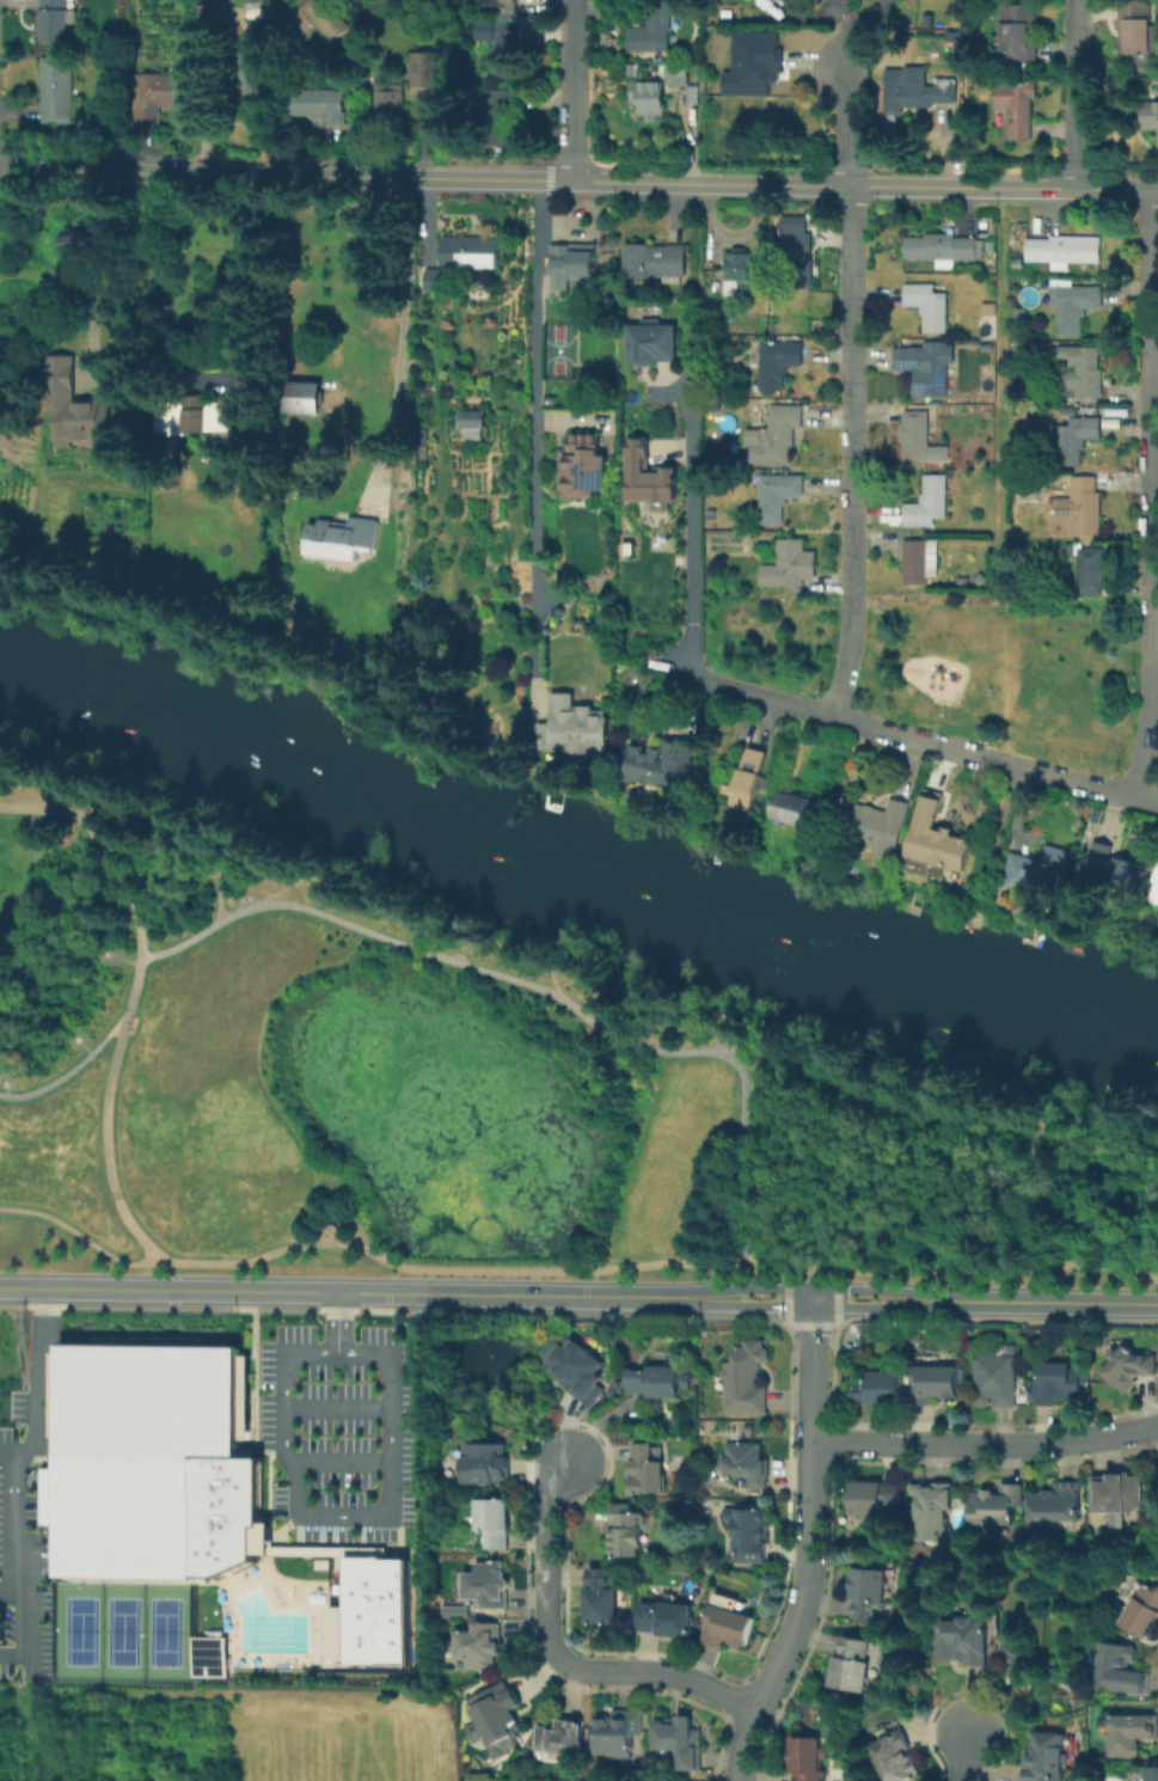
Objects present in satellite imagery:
building: (755, 1)
building: (503, 2)
building: (259, 5)
building: (56, 22)
building: (327, 22)
building: (1135, 29)
building: (652, 30)
building: (1019, 32)
building: (503, 44)
building: (756, 68)
building: (424, 71)
building: (257, 74)
building: (56, 90)
road: (574, 92)
road: (1077, 94)
building: (657, 96)
building: (929, 96)
building: (160, 97)
building: (320, 106)
building: (1017, 109)
building: (393, 112)
building: (498, 116)
building: (1152, 116)
road: (850, 127)
road: (578, 184)
building: (72, 243)
building: (799, 245)
building: (943, 251)
building: (1065, 253)
building: (473, 255)
building: (1019, 263)
building: (657, 264)
building: (577, 268)
road: (88, 274)
building: (740, 274)
building: (439, 283)
building: (1076, 307)
building: (930, 308)
building: (1019, 317)
road: (406, 335)
building: (655, 344)
building: (1021, 354)
building: (778, 366)
building: (931, 371)
building: (1083, 373)
building: (251, 382)
building: (307, 400)
building: (76, 409)
building: (192, 415)
building: (474, 421)
road: (535, 432)
building: (779, 437)
building: (917, 437)
building: (1079, 440)
road: (852, 454)
building: (584, 469)
building: (647, 477)
road: (1152, 495)
building: (779, 498)
building: (926, 507)
building: (1083, 508)
building: (345, 540)
building: (917, 565)
building: (789, 567)
building: (1091, 575)
park: (1010, 669)
road: (778, 702)
river: (174, 711)
building: (577, 732)
building: (666, 766)
building: (752, 781)
road: (65, 807)
building: (796, 812)
building: (876, 828)
building: (941, 841)
road: (993, 849)
road: (215, 853)
park: (992, 853)
road: (269, 863)
building: (1040, 869)
road: (231, 870)
building: (1115, 870)
road: (120, 876)
building: (1154, 892)
road: (219, 896)
river: (750, 906)
road: (419, 910)
road: (359, 926)
road: (462, 944)
road: (111, 948)
road: (125, 959)
road: (76, 1033)
road: (717, 1035)
road: (630, 1042)
road: (85, 1048)
road: (264, 1069)
road: (68, 1070)
road: (776, 1079)
road: (851, 1082)
road: (12, 1083)
road: (755, 1085)
park: (466, 1093)
road: (5, 1094)
road: (103, 1112)
road: (1080, 1121)
road: (1126, 1131)
road: (1011, 1139)
road: (736, 1150)
road: (631, 1158)
road: (777, 1163)
road: (748, 1174)
road: (998, 1187)
road: (1035, 1236)
road: (570, 1268)
road: (786, 1271)
road: (835, 1273)
road: (817, 1290)
road: (786, 1291)
road: (835, 1292)
road: (355, 1293)
road: (1041, 1302)
road: (816, 1308)
road: (337, 1322)
building: (576, 1371)
building: (1131, 1371)
building: (747, 1381)
building: (656, 1383)
building: (997, 1383)
building: (939, 1387)
building: (1059, 1387)
building: (880, 1391)
building: (54, 1395)
road: (337, 1407)
road: (391, 1420)
parking lot: (337, 1432)
road: (1154, 1440)
road: (985, 1446)
road: (11, 1452)
road: (342, 1462)
building: (152, 1463)
building: (486, 1464)
building: (748, 1464)
building: (647, 1471)
road: (11, 1482)
building: (1119, 1495)
building: (874, 1500)
building: (1058, 1505)
building: (995, 1507)
building: (932, 1512)
building: (495, 1524)
parking lot: (26, 1530)
building: (627, 1534)
building: (750, 1537)
road: (810, 1542)
building: (489, 1586)
road: (12, 1595)
building: (868, 1595)
building: (602, 1601)
park: (78, 1605)
building: (374, 1610)
building: (459, 1611)
building: (1144, 1614)
building: (667, 1621)
building: (728, 1624)
park: (80, 1630)
park: (122, 1630)
park: (163, 1630)
building: (966, 1644)
building: (480, 1648)
road: (14, 1654)
park: (65, 1654)
park: (88, 1655)
building: (207, 1655)
road: (560, 1658)
building: (854, 1666)
building: (1122, 1671)
building: (497, 1715)
building: (618, 1736)
building: (1131, 1736)
building: (563, 1740)
building: (680, 1743)
road: (963, 1756)
building: (895, 1758)
building: (1046, 1758)
building: (808, 1761)
building: (1154, 1775)

